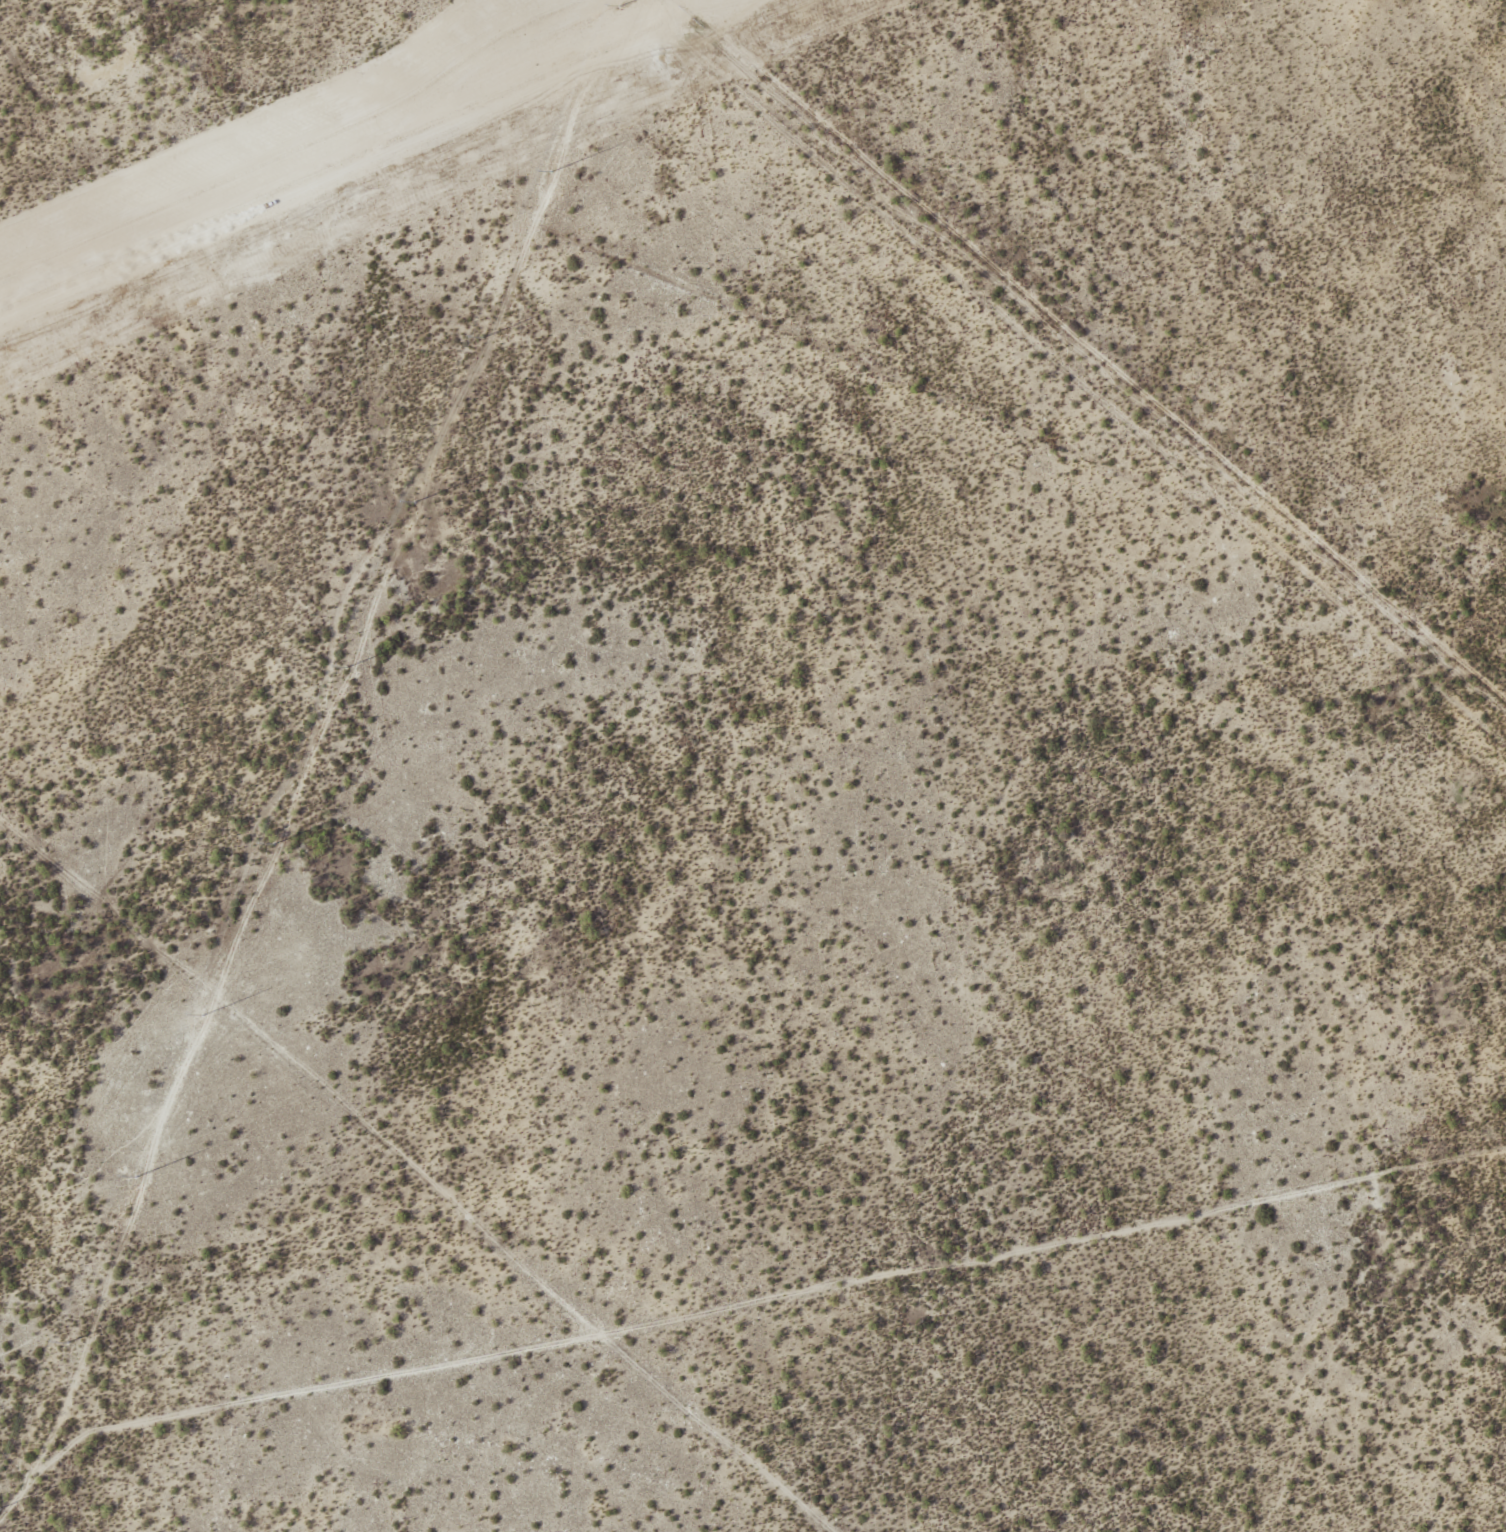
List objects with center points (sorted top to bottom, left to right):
power tower: (619, 7)
power tower: (550, 172)
power tower: (481, 338)
power tower: (413, 502)
power tower: (346, 667)
power tower: (272, 844)
power tower: (201, 1016)
power tower: (134, 1176)
power tower: (67, 1343)

